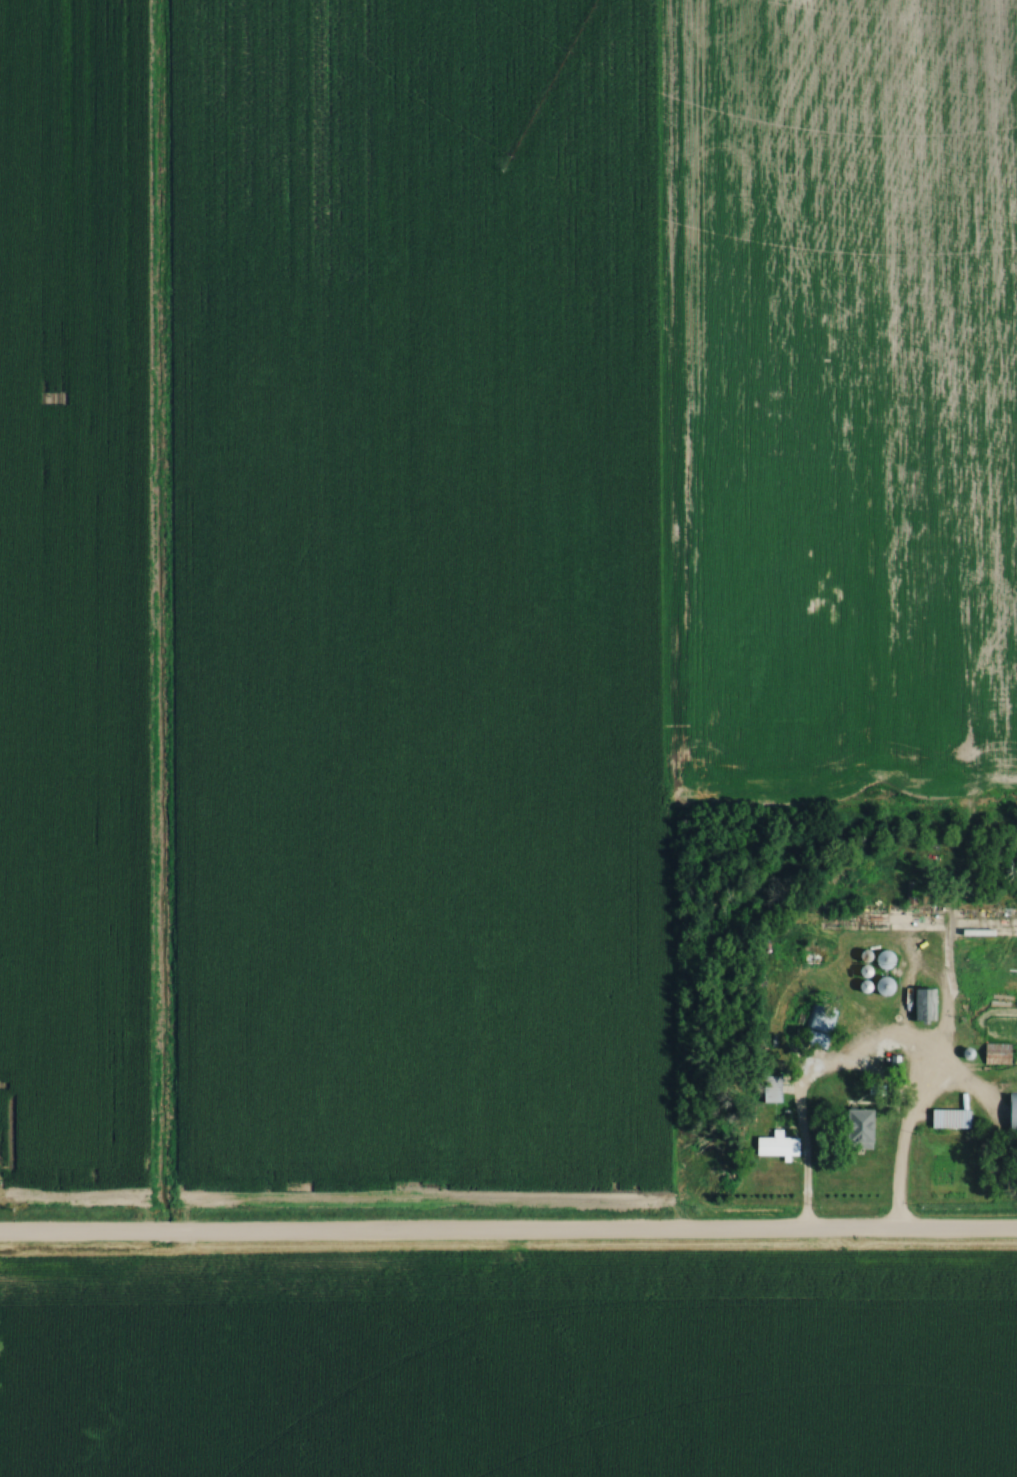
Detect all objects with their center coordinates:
building: (879, 960)
building: (878, 986)
building: (921, 1005)
building: (995, 1053)
building: (767, 1089)
road: (915, 1097)
building: (1009, 1115)
building: (947, 1119)
building: (850, 1129)
building: (772, 1145)
road: (508, 1236)

